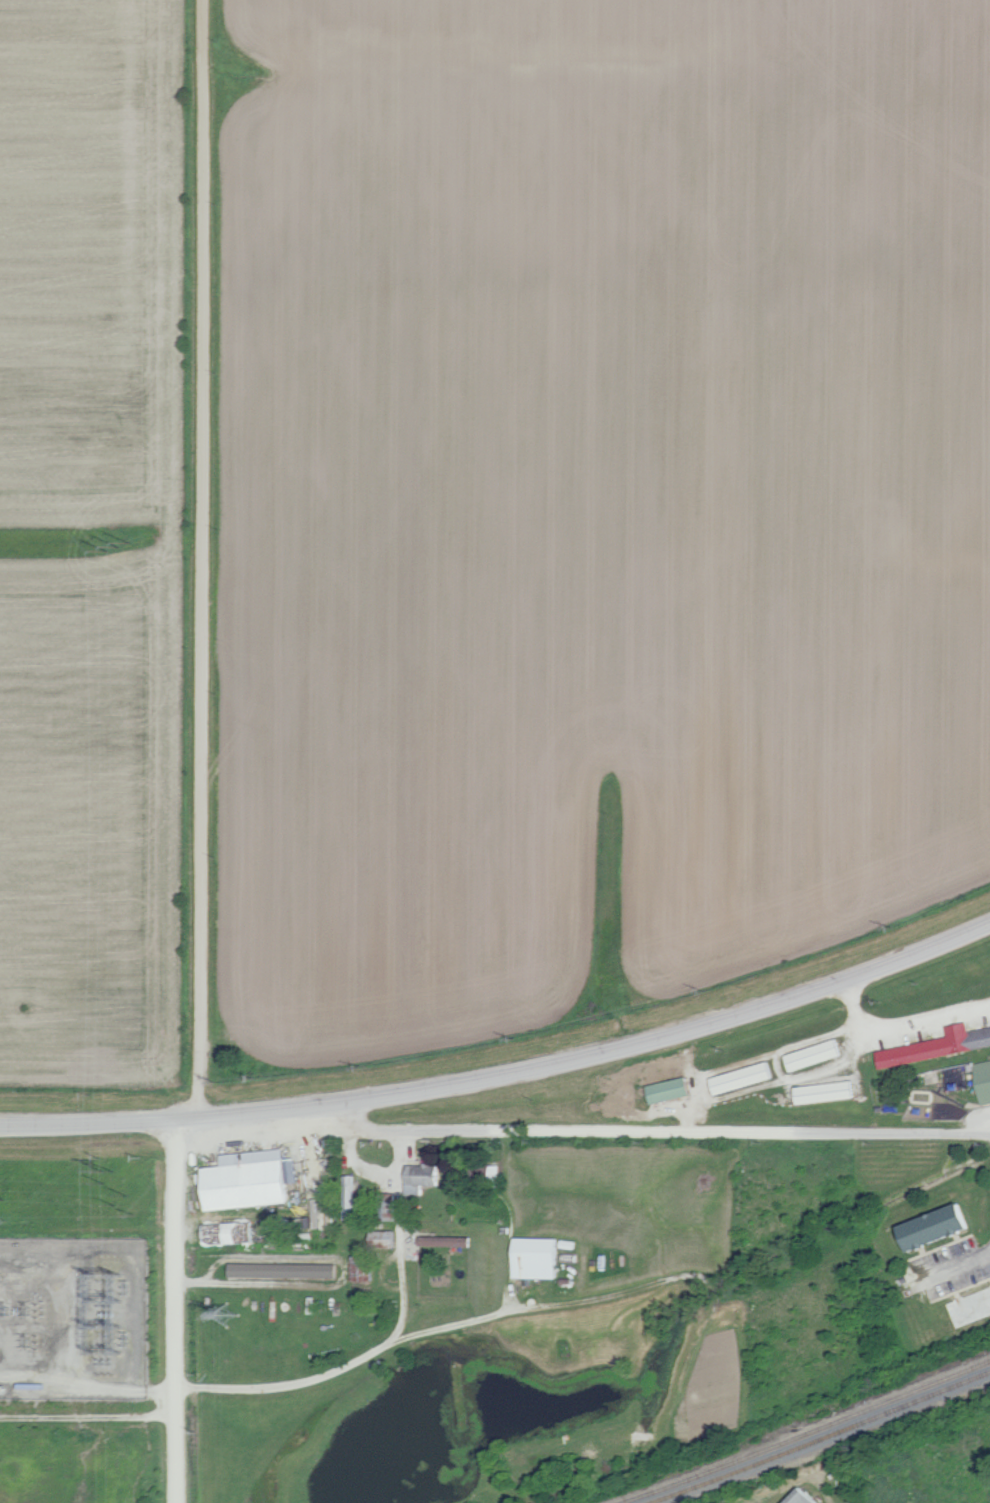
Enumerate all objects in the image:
power tower: (112, 545)
road: (201, 752)
road: (853, 1003)
road: (815, 1039)
building: (938, 1046)
building: (816, 1054)
road: (504, 1073)
building: (744, 1077)
building: (984, 1079)
building: (671, 1090)
building: (828, 1092)
road: (657, 1134)
building: (478, 1174)
building: (423, 1177)
building: (252, 1179)
power tower: (117, 1189)
building: (350, 1197)
building: (386, 1205)
building: (940, 1226)
building: (384, 1239)
building: (447, 1241)
building: (539, 1258)
road: (970, 1263)
building: (364, 1269)
building: (285, 1271)
power tower: (235, 1312)
power substation: (72, 1318)
railway: (803, 1433)
railway: (823, 1438)
building: (803, 1497)

